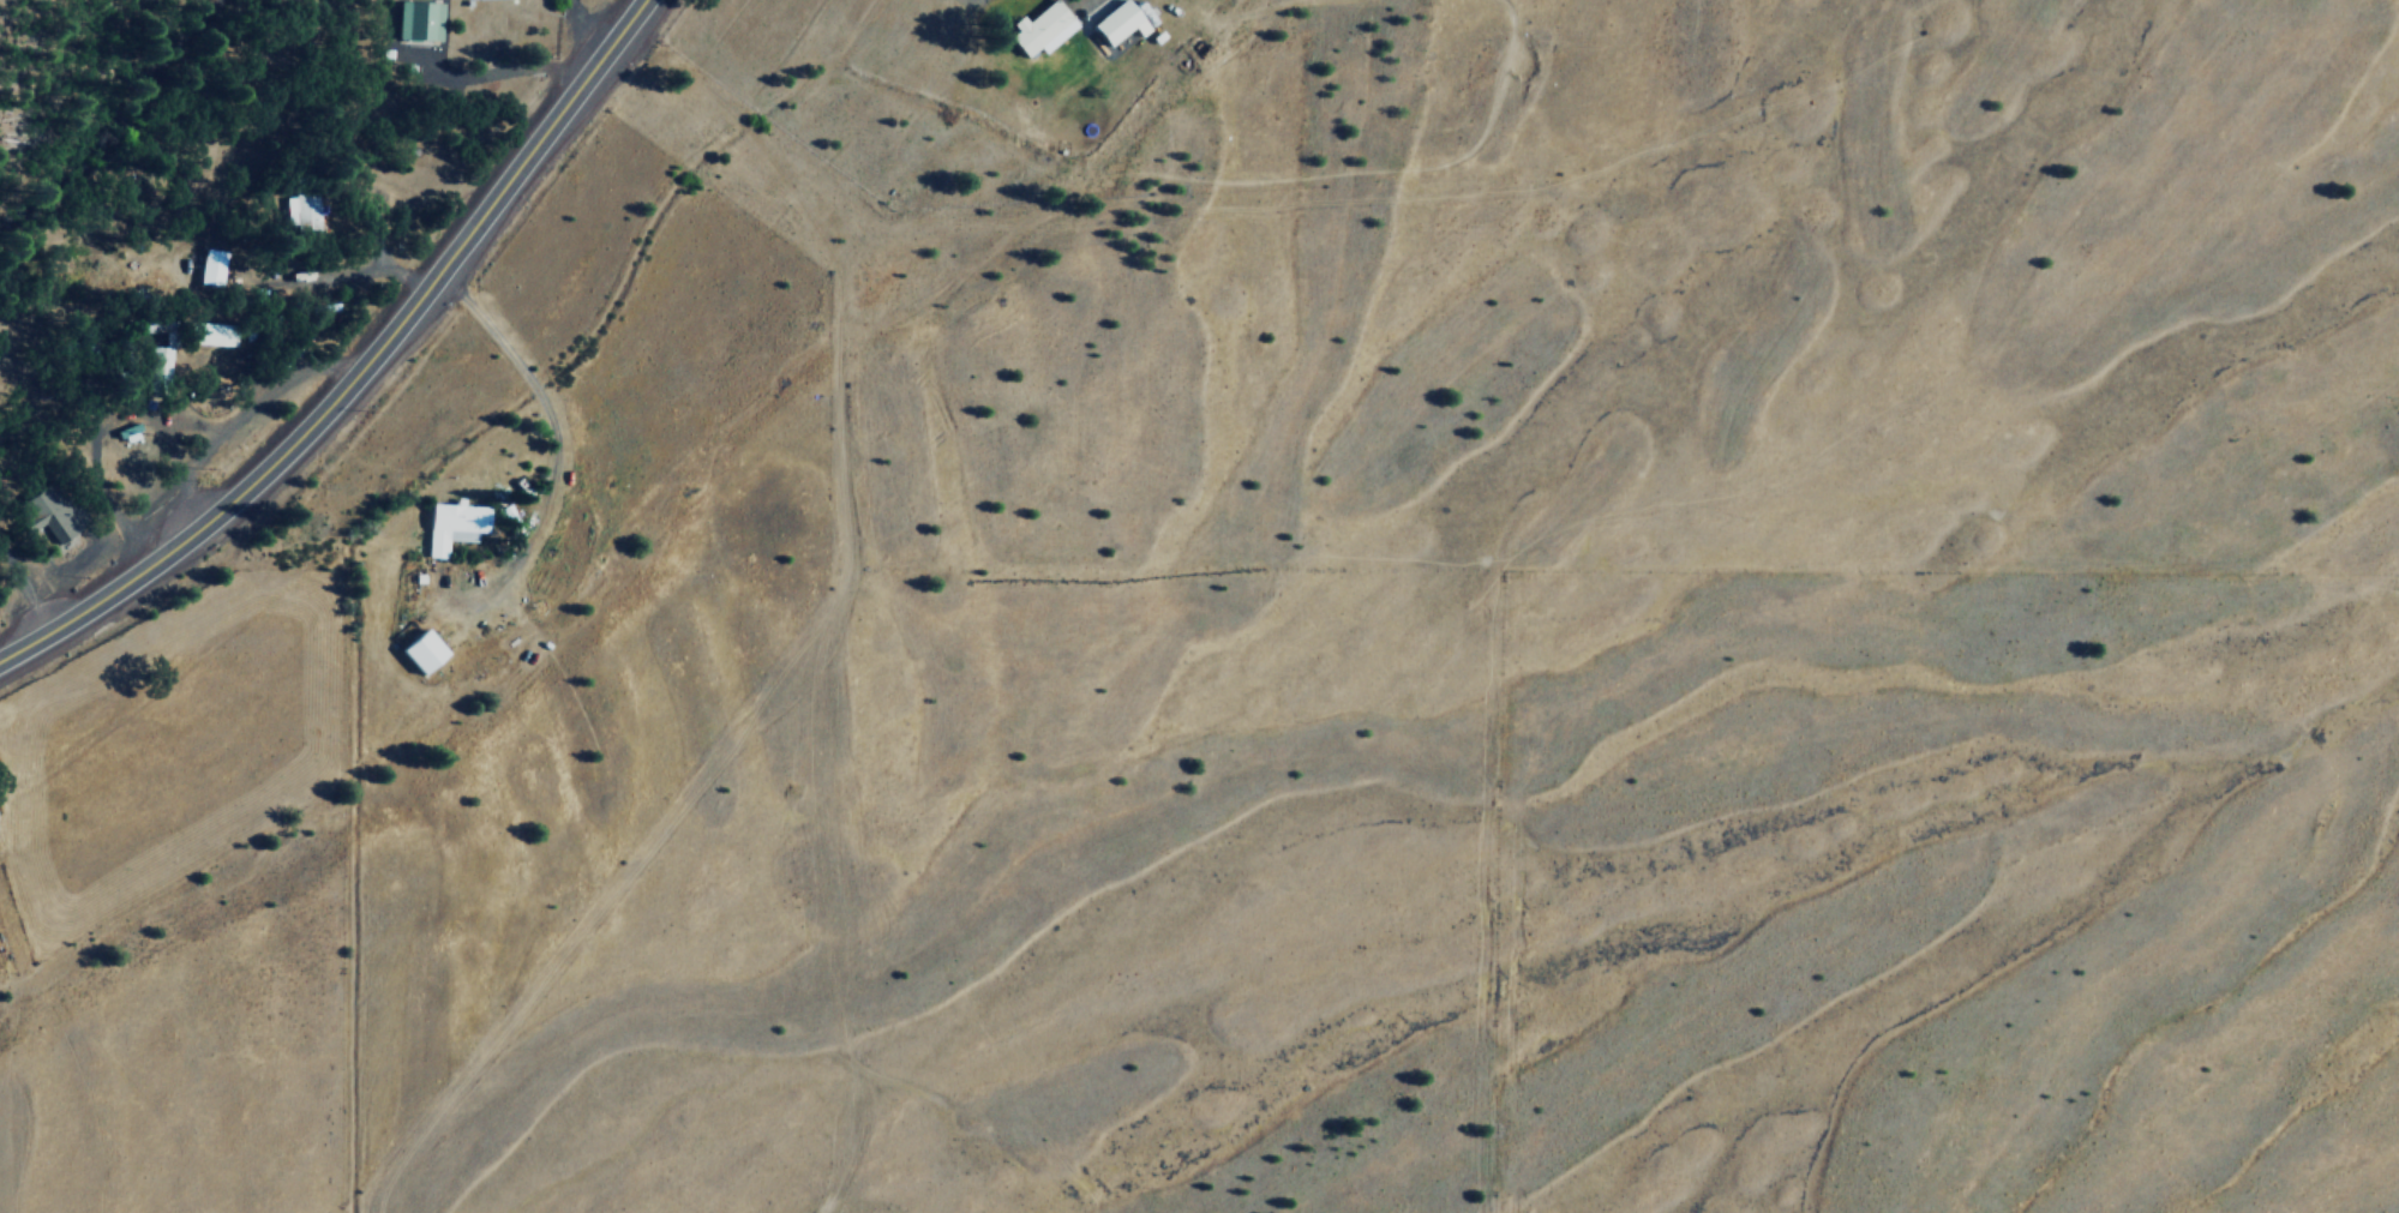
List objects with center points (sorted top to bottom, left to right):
building: (420, 18)
building: (1114, 18)
building: (1042, 26)
building: (302, 210)
building: (211, 265)
building: (214, 331)
building: (162, 358)
road: (359, 368)
road: (550, 428)
building: (53, 510)
building: (455, 522)
building: (422, 649)

